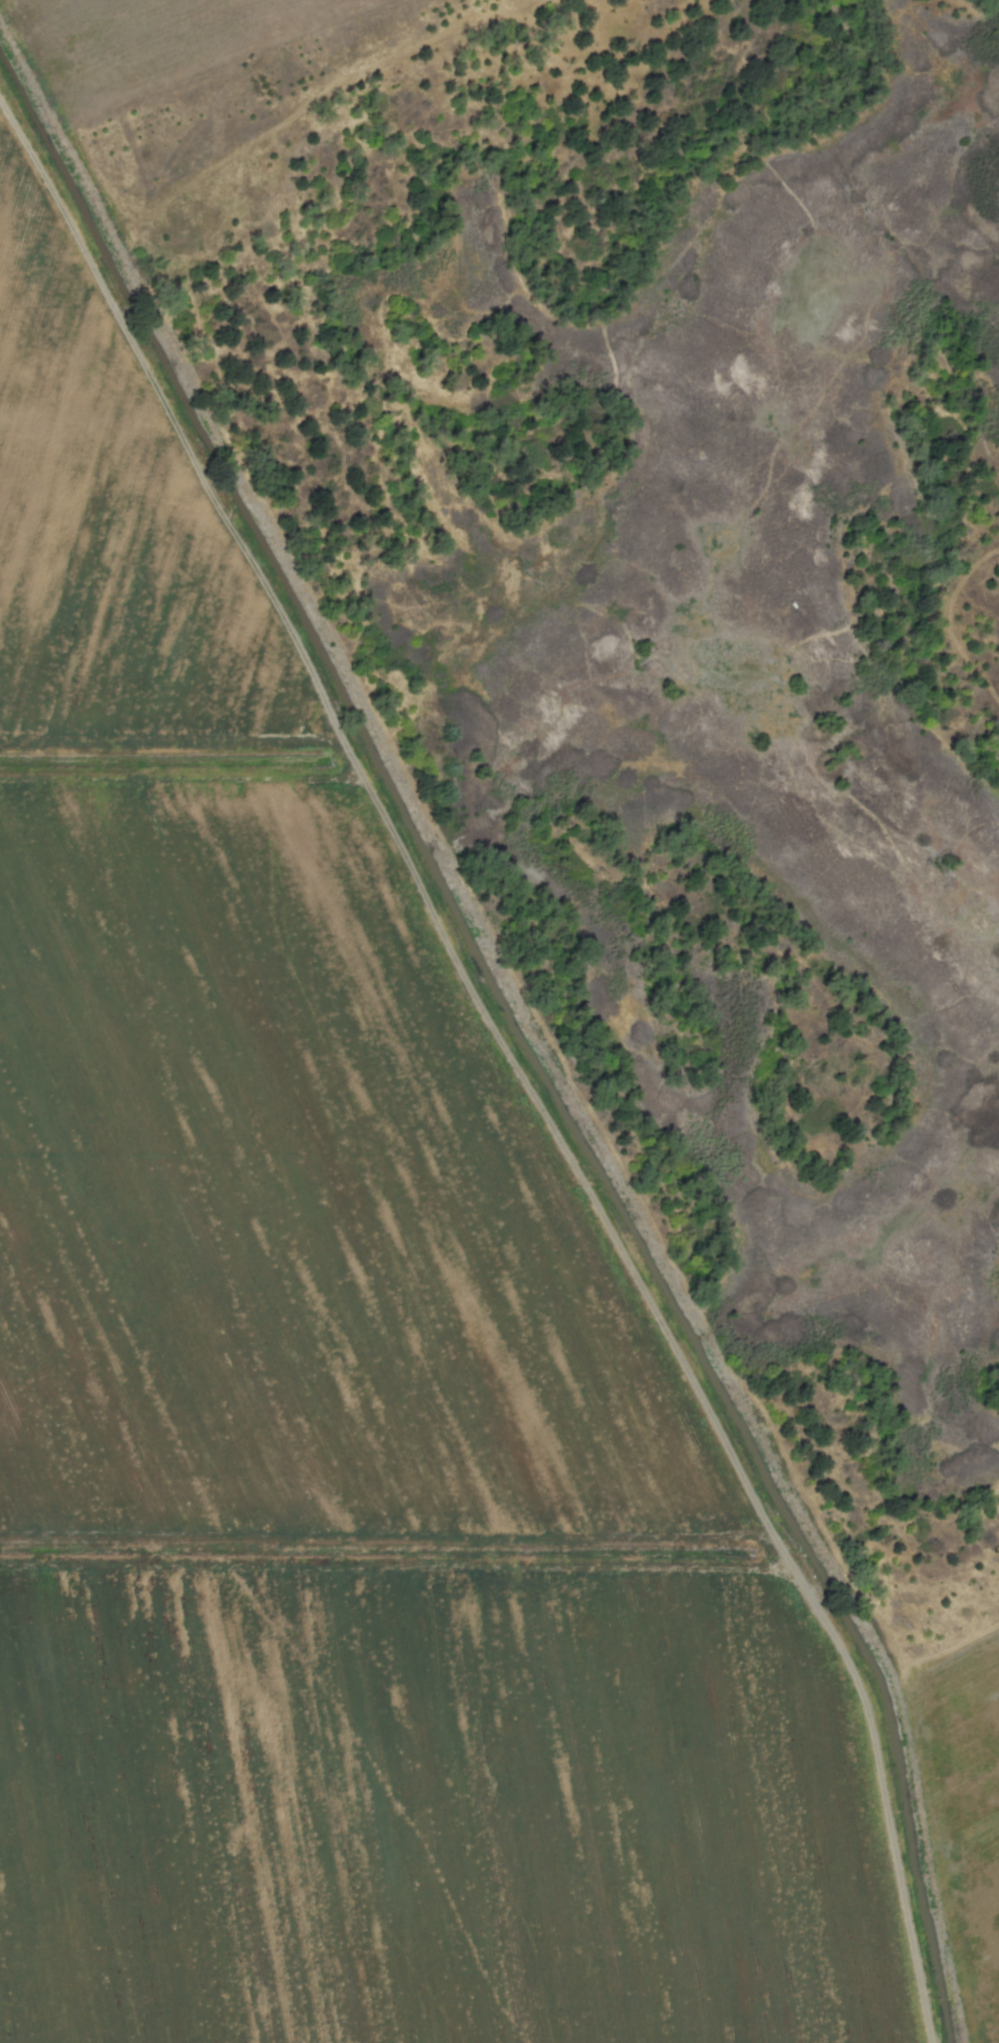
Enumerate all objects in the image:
road: (344, 88)
road: (554, 1147)
crop: (365, 1407)

